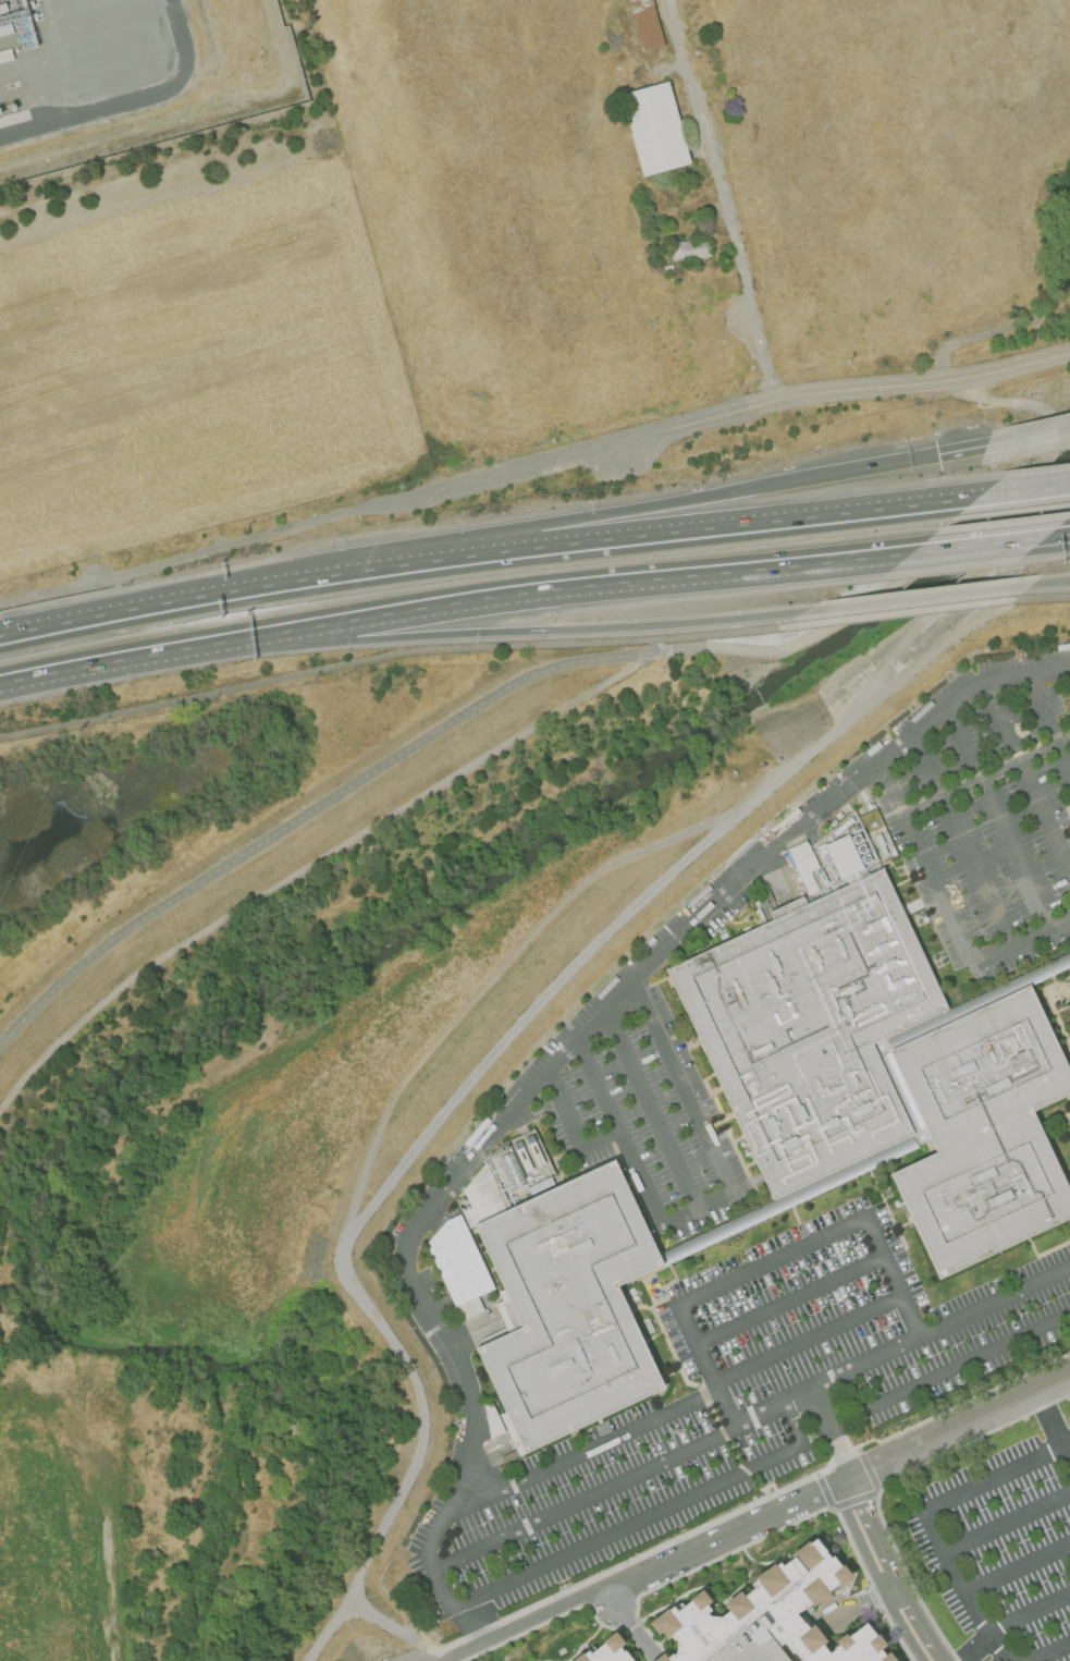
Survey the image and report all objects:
building: (647, 24)
power plant: (134, 76)
road: (130, 98)
building: (654, 127)
crop: (694, 197)
road: (728, 200)
building: (716, 230)
building: (690, 249)
crop: (193, 367)
road: (709, 419)
road: (1029, 437)
road: (962, 451)
traffic signals: (937, 455)
road: (1024, 492)
road: (673, 500)
road: (696, 529)
road: (1055, 540)
road: (972, 550)
road: (176, 557)
road: (308, 582)
road: (1051, 583)
road: (601, 589)
road: (1044, 598)
road: (920, 599)
road: (897, 614)
road: (100, 621)
road: (553, 631)
road: (938, 650)
road: (149, 661)
road: (383, 661)
road: (1048, 723)
road: (1063, 738)
road: (1026, 775)
road: (311, 808)
road: (998, 817)
road: (961, 841)
road: (311, 863)
road: (923, 863)
road: (1022, 942)
river: (233, 1007)
road: (526, 1021)
building: (813, 1028)
road: (552, 1065)
road: (682, 1087)
road: (651, 1110)
road: (570, 1128)
building: (985, 1128)
road: (618, 1131)
parking lot: (753, 1188)
road: (713, 1201)
building: (456, 1261)
road: (766, 1261)
road: (459, 1267)
road: (893, 1277)
road: (789, 1299)
building: (570, 1300)
building: (468, 1307)
road: (808, 1340)
road: (706, 1367)
road: (949, 1371)
road: (750, 1418)
parking lot: (1069, 1419)
road: (1048, 1420)
road: (960, 1426)
road: (831, 1433)
road: (583, 1452)
road: (1066, 1457)
road: (998, 1479)
road: (843, 1480)
road: (647, 1518)
road: (872, 1520)
road: (1007, 1523)
road: (776, 1529)
parking lot: (1003, 1546)
road: (771, 1561)
road: (1018, 1570)
road: (639, 1571)
road: (873, 1575)
road: (896, 1576)
road: (845, 1585)
fountain: (851, 1587)
road: (890, 1589)
road: (963, 1589)
road: (710, 1595)
road: (873, 1595)
road: (608, 1597)
road: (858, 1603)
road: (675, 1604)
building: (770, 1614)
road: (831, 1614)
road: (1029, 1614)
road: (545, 1621)
road: (921, 1621)
road: (630, 1626)
road: (397, 1628)
road: (636, 1631)
road: (894, 1632)
road: (878, 1633)
road: (630, 1635)
building: (747, 1647)
parking garage: (747, 1647)
road: (577, 1648)
road: (975, 1649)
building: (604, 1650)
road: (1054, 1652)
road: (944, 1658)
road: (443, 1659)
road: (544, 1660)

